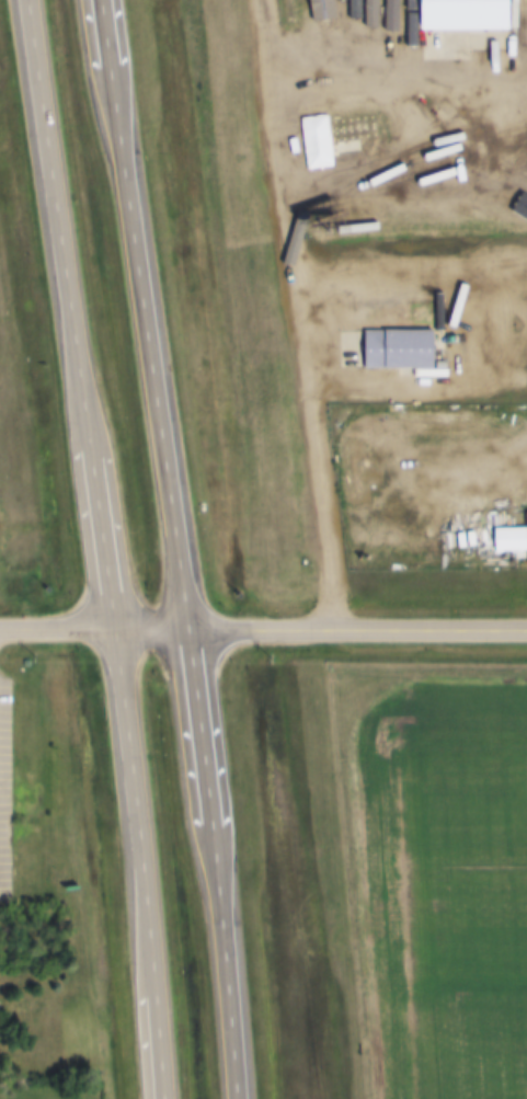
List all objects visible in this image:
building: (460, 15)
building: (517, 27)
road: (398, 51)
building: (515, 186)
road: (303, 312)
building: (398, 351)
building: (336, 450)
road: (107, 548)
road: (187, 548)
building: (347, 551)
road: (362, 626)
road: (99, 627)

